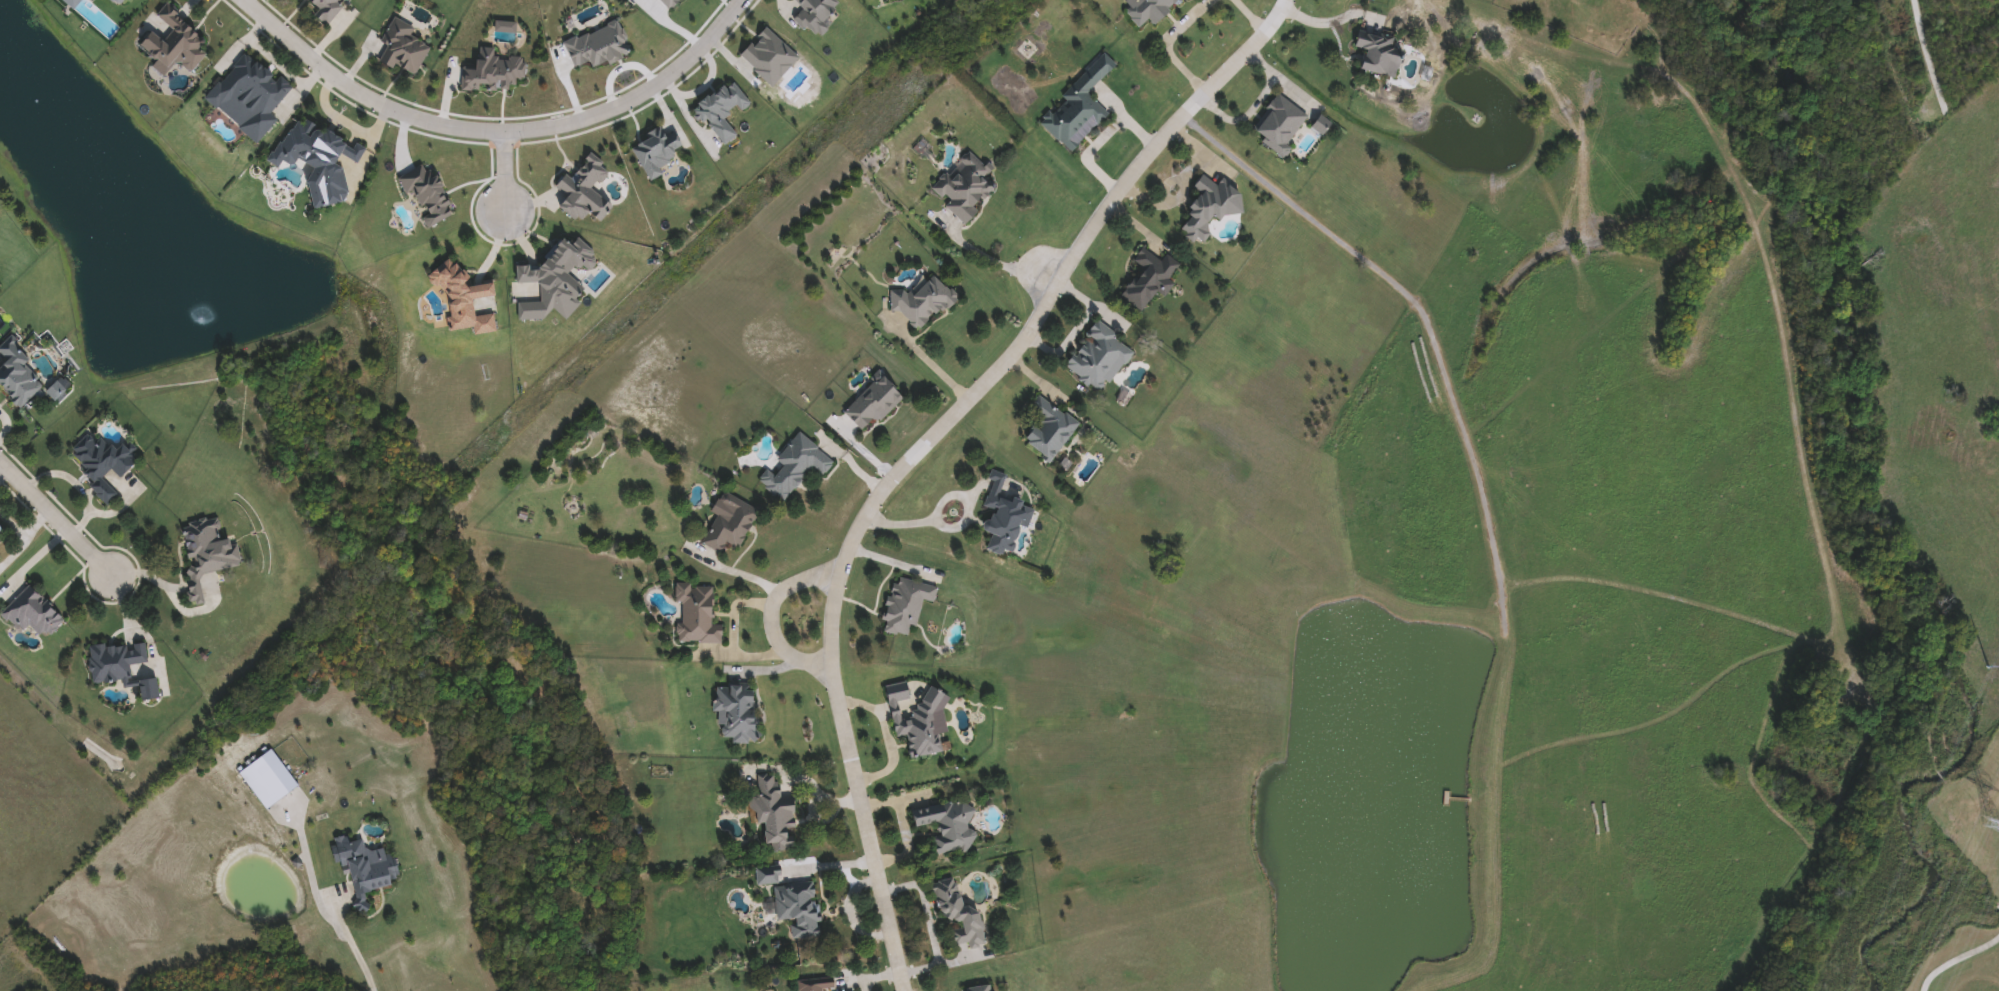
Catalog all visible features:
building: (100, 0)
building: (326, 10)
building: (1151, 11)
building: (817, 14)
road: (1259, 17)
road: (1332, 18)
building: (177, 43)
road: (1173, 46)
building: (405, 50)
building: (1380, 54)
building: (251, 96)
building: (1078, 108)
building: (1280, 126)
road: (494, 133)
road: (1099, 139)
building: (319, 161)
road: (503, 173)
building: (965, 188)
building: (1212, 206)
road: (996, 263)
building: (1151, 279)
building: (464, 300)
building: (925, 302)
building: (1101, 358)
road: (929, 364)
building: (18, 376)
building: (873, 404)
road: (5, 424)
building: (1051, 429)
road: (931, 446)
building: (105, 465)
building: (795, 467)
road: (4, 473)
road: (74, 485)
building: (1006, 514)
road: (54, 516)
road: (956, 525)
building: (729, 527)
road: (25, 531)
building: (2, 536)
building: (208, 554)
road: (31, 559)
building: (907, 606)
building: (32, 614)
building: (696, 615)
road: (772, 615)
building: (124, 668)
power tower: (1988, 673)
building: (737, 714)
building: (923, 735)
building: (775, 814)
power tower: (1988, 823)
building: (950, 825)
building: (365, 868)
road: (324, 902)
building: (793, 903)
building: (961, 917)
road: (932, 925)
road: (876, 978)
building: (818, 986)
building: (986, 989)

